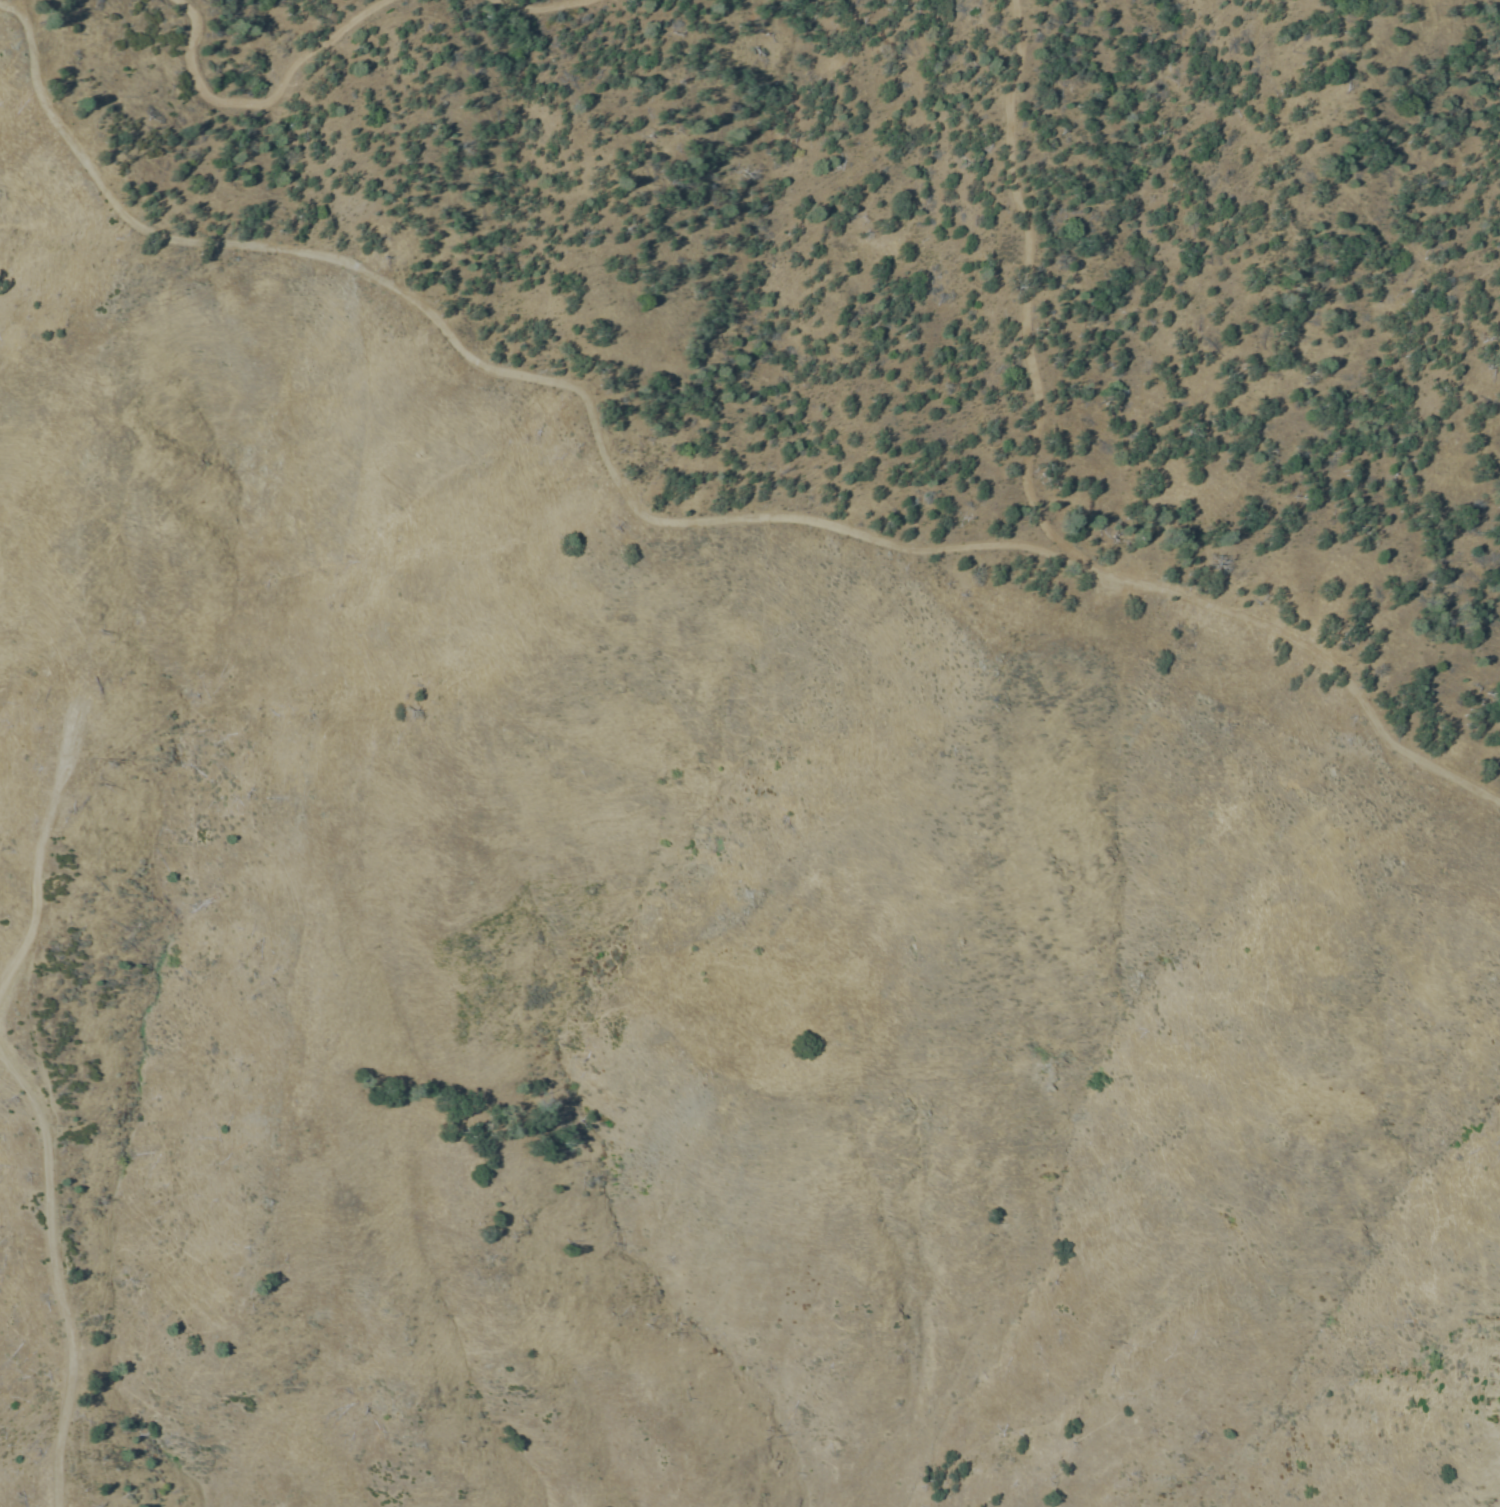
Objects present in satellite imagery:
road: (522, 1)
road: (261, 93)
road: (1026, 302)
road: (662, 536)
road: (34, 876)
road: (54, 1282)

